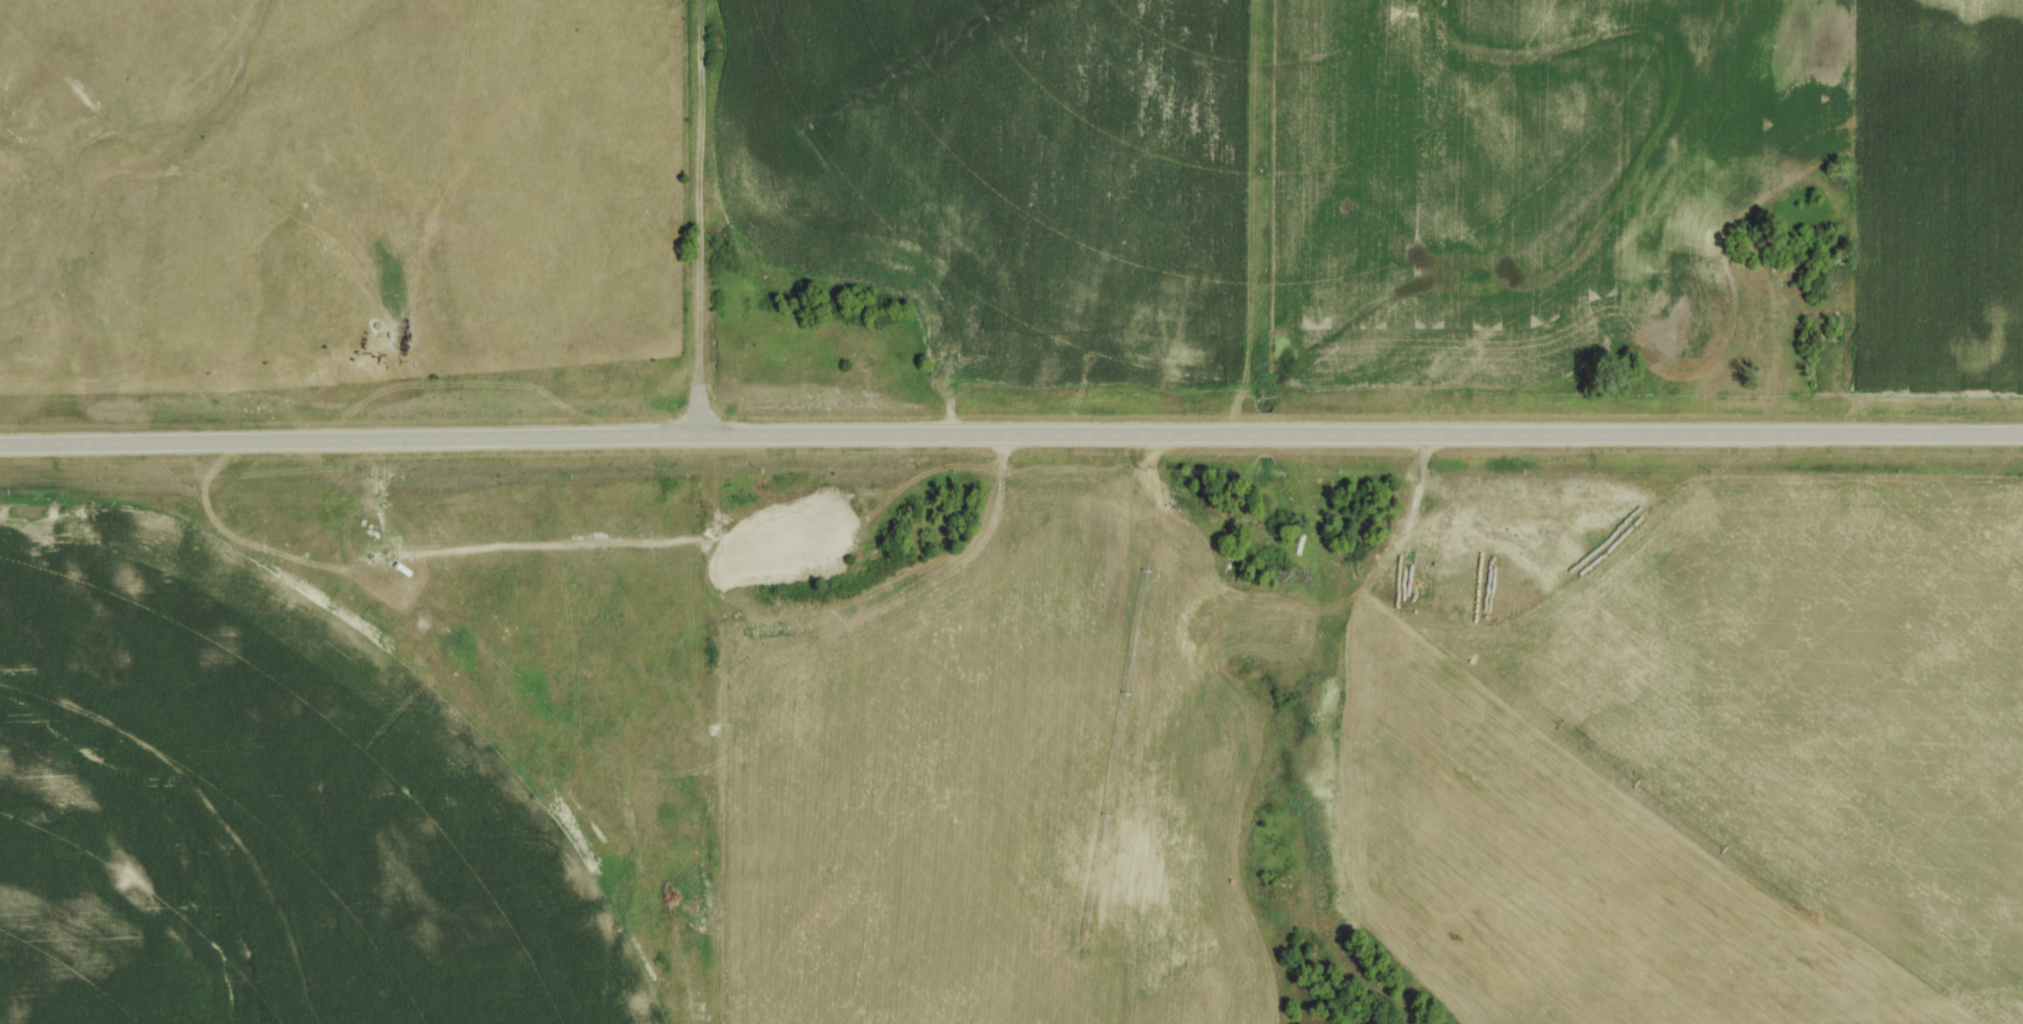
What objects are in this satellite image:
road: (698, 218)
road: (1011, 433)

